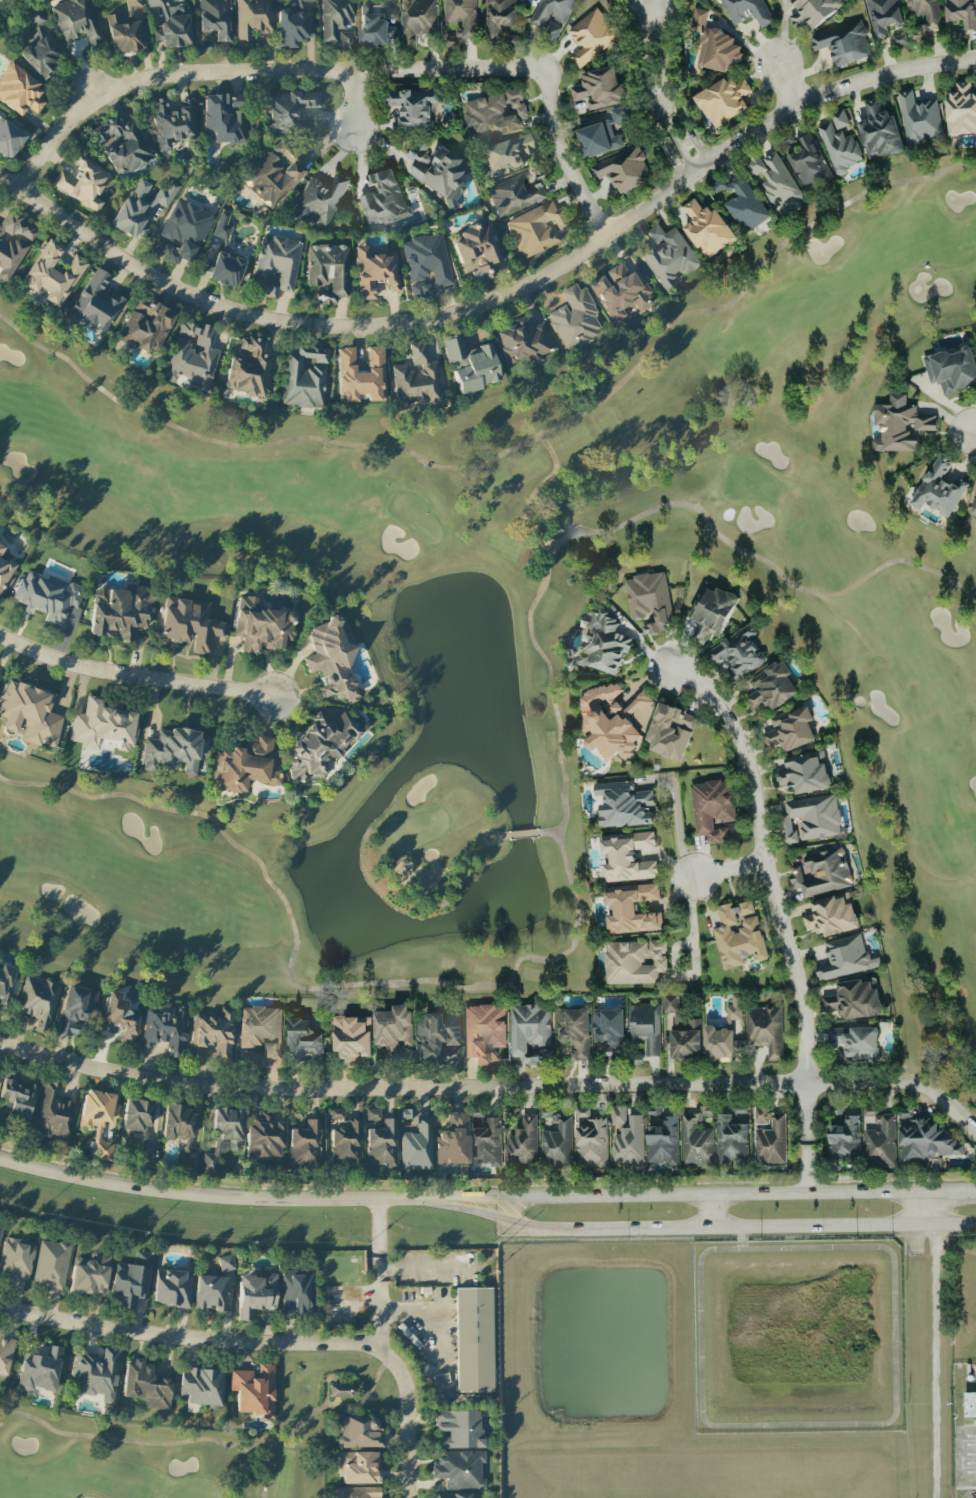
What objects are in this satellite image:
road: (653, 2)
building: (749, 10)
building: (813, 12)
building: (924, 12)
building: (961, 12)
building: (499, 15)
building: (551, 16)
building: (883, 16)
building: (215, 18)
building: (333, 18)
building: (460, 19)
building: (252, 20)
building: (417, 20)
building: (76, 21)
building: (295, 23)
building: (171, 24)
building: (123, 35)
building: (592, 35)
building: (345, 40)
building: (900, 40)
building: (843, 42)
building: (39, 47)
building: (206, 47)
road: (645, 50)
building: (717, 50)
road: (665, 66)
road: (344, 71)
road: (786, 80)
building: (598, 90)
building: (19, 91)
road: (352, 99)
building: (723, 100)
building: (412, 108)
building: (290, 109)
road: (659, 109)
building: (961, 109)
road: (652, 112)
building: (495, 114)
building: (224, 118)
building: (840, 118)
building: (920, 118)
building: (170, 124)
building: (879, 131)
building: (603, 133)
building: (9, 139)
road: (695, 144)
road: (678, 147)
building: (839, 147)
road: (668, 153)
building: (506, 154)
building: (808, 163)
building: (623, 169)
building: (276, 174)
building: (439, 174)
building: (777, 180)
building: (82, 183)
building: (514, 195)
building: (384, 199)
building: (319, 201)
building: (745, 205)
building: (140, 207)
building: (223, 226)
building: (706, 228)
building: (537, 229)
building: (182, 232)
building: (13, 243)
building: (478, 250)
building: (668, 256)
building: (277, 264)
building: (427, 265)
building: (328, 268)
building: (225, 270)
building: (375, 271)
building: (51, 273)
road: (499, 291)
building: (619, 291)
building: (95, 302)
building: (574, 318)
building: (146, 327)
building: (522, 341)
building: (192, 355)
building: (469, 363)
building: (248, 367)
building: (952, 369)
building: (360, 375)
building: (304, 377)
building: (416, 378)
building: (899, 424)
road: (973, 432)
building: (939, 487)
building: (973, 503)
building: (2, 545)
building: (5, 571)
building: (47, 596)
building: (649, 600)
building: (120, 611)
building: (711, 611)
building: (189, 623)
park: (522, 625)
building: (261, 626)
building: (604, 644)
building: (738, 651)
building: (331, 658)
road: (134, 679)
building: (771, 686)
building: (30, 714)
building: (101, 726)
building: (791, 729)
building: (669, 731)
building: (319, 744)
building: (173, 750)
building: (245, 766)
building: (805, 773)
building: (624, 805)
building: (713, 810)
building: (816, 815)
building: (791, 830)
building: (627, 856)
road: (724, 871)
building: (822, 872)
building: (631, 908)
road: (776, 914)
building: (831, 914)
building: (738, 934)
building: (845, 957)
building: (634, 961)
building: (6, 982)
building: (854, 999)
building: (38, 1001)
building: (669, 1003)
building: (75, 1009)
building: (119, 1017)
building: (645, 1026)
building: (764, 1029)
building: (165, 1030)
building: (609, 1030)
building: (574, 1031)
building: (394, 1032)
building: (483, 1032)
building: (213, 1033)
building: (530, 1033)
building: (724, 1033)
building: (259, 1034)
building: (352, 1038)
building: (438, 1038)
building: (304, 1039)
building: (684, 1039)
building: (858, 1042)
road: (493, 1087)
building: (17, 1095)
building: (54, 1114)
building: (404, 1114)
building: (98, 1120)
building: (138, 1126)
building: (181, 1132)
building: (223, 1136)
building: (627, 1136)
building: (732, 1136)
building: (769, 1137)
building: (380, 1139)
building: (591, 1139)
building: (662, 1139)
building: (844, 1139)
building: (344, 1140)
building: (452, 1140)
building: (555, 1140)
building: (924, 1141)
building: (487, 1142)
building: (523, 1142)
building: (880, 1142)
building: (416, 1147)
road: (949, 1192)
road: (738, 1194)
road: (207, 1196)
road: (487, 1199)
road: (711, 1210)
road: (695, 1226)
building: (0, 1229)
road: (743, 1237)
building: (16, 1258)
building: (225, 1263)
building: (51, 1265)
road: (427, 1266)
road: (380, 1274)
building: (89, 1275)
building: (131, 1280)
building: (172, 1288)
building: (296, 1291)
building: (210, 1293)
building: (255, 1294)
building: (0, 1328)
road: (200, 1340)
building: (474, 1340)
road: (934, 1343)
building: (37, 1350)
building: (5, 1354)
building: (39, 1371)
building: (96, 1374)
building: (145, 1385)
building: (201, 1386)
building: (253, 1390)
building: (339, 1391)
building: (970, 1405)
road: (857, 1427)
building: (458, 1429)
building: (358, 1432)
road: (401, 1432)
park: (157, 1459)
building: (358, 1467)
building: (458, 1470)
building: (356, 1492)
building: (453, 1495)

